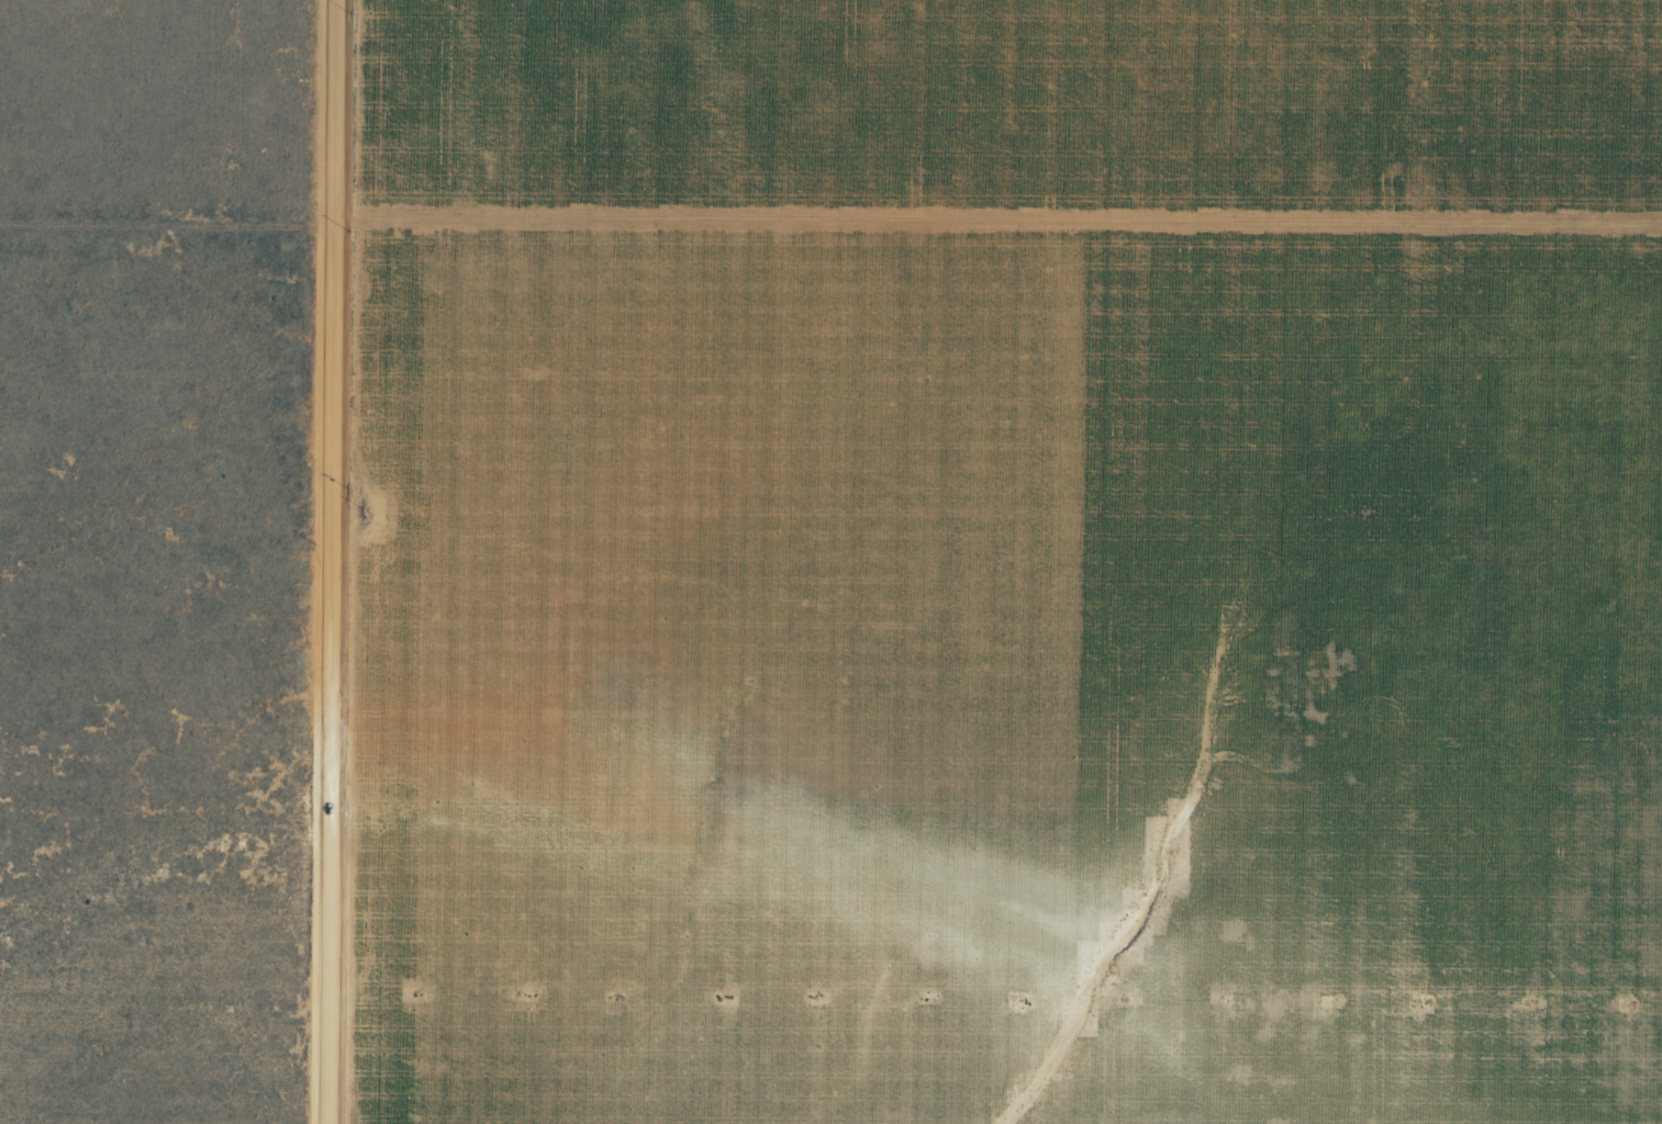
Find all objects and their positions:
road: (999, 205)
road: (331, 562)

